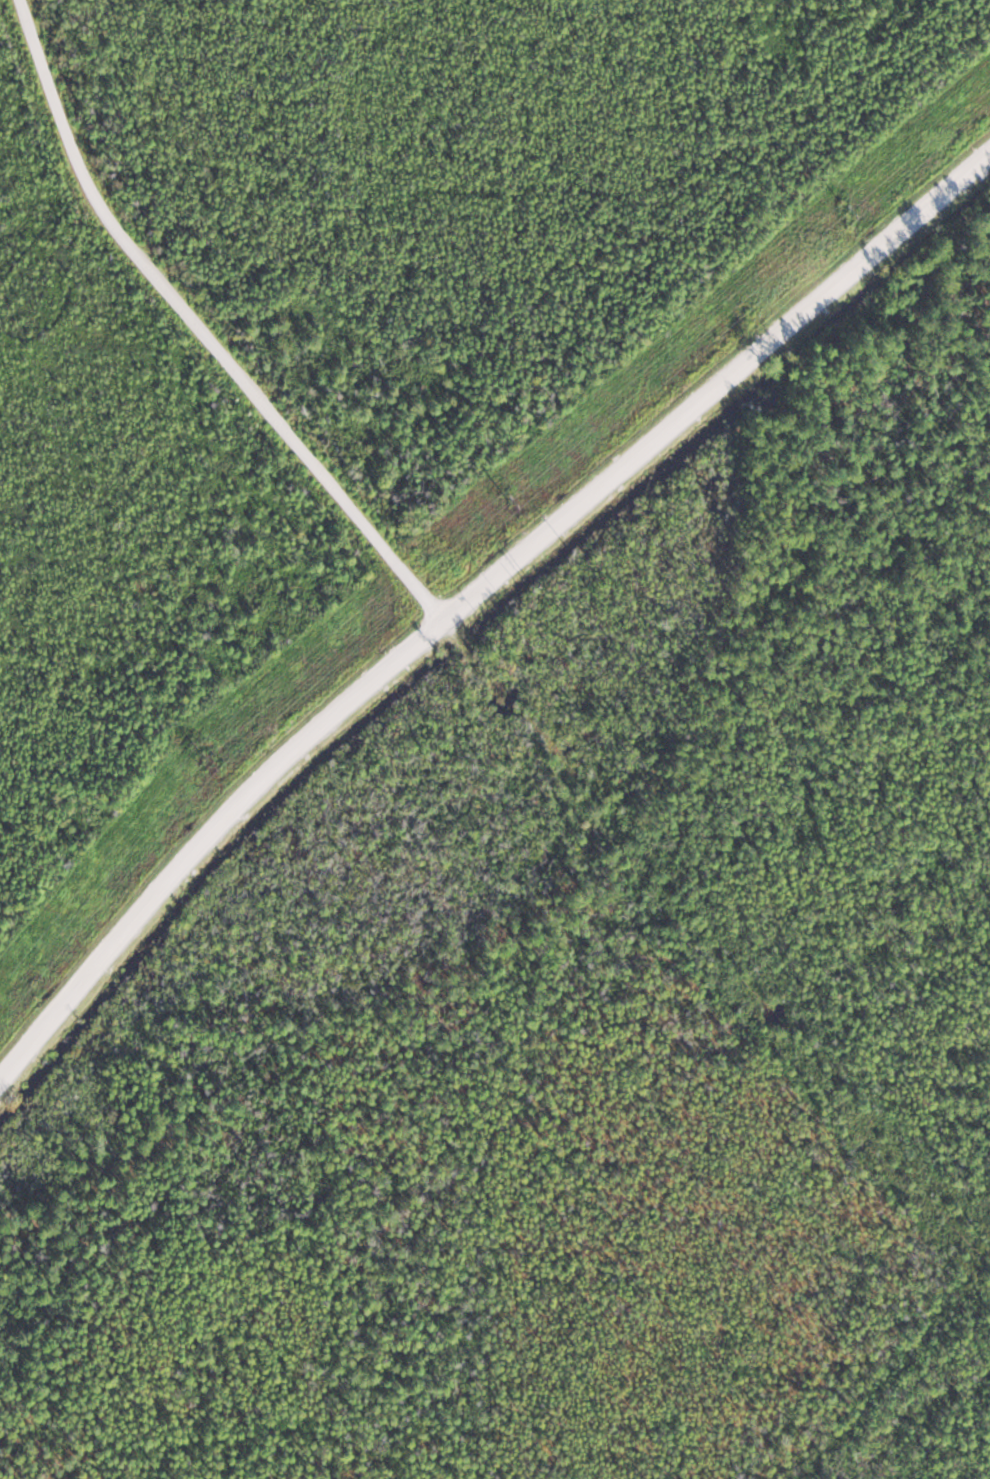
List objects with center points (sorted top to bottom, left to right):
power tower: (846, 210)
road: (200, 328)
power tower: (508, 503)
road: (473, 595)
power tower: (202, 756)

